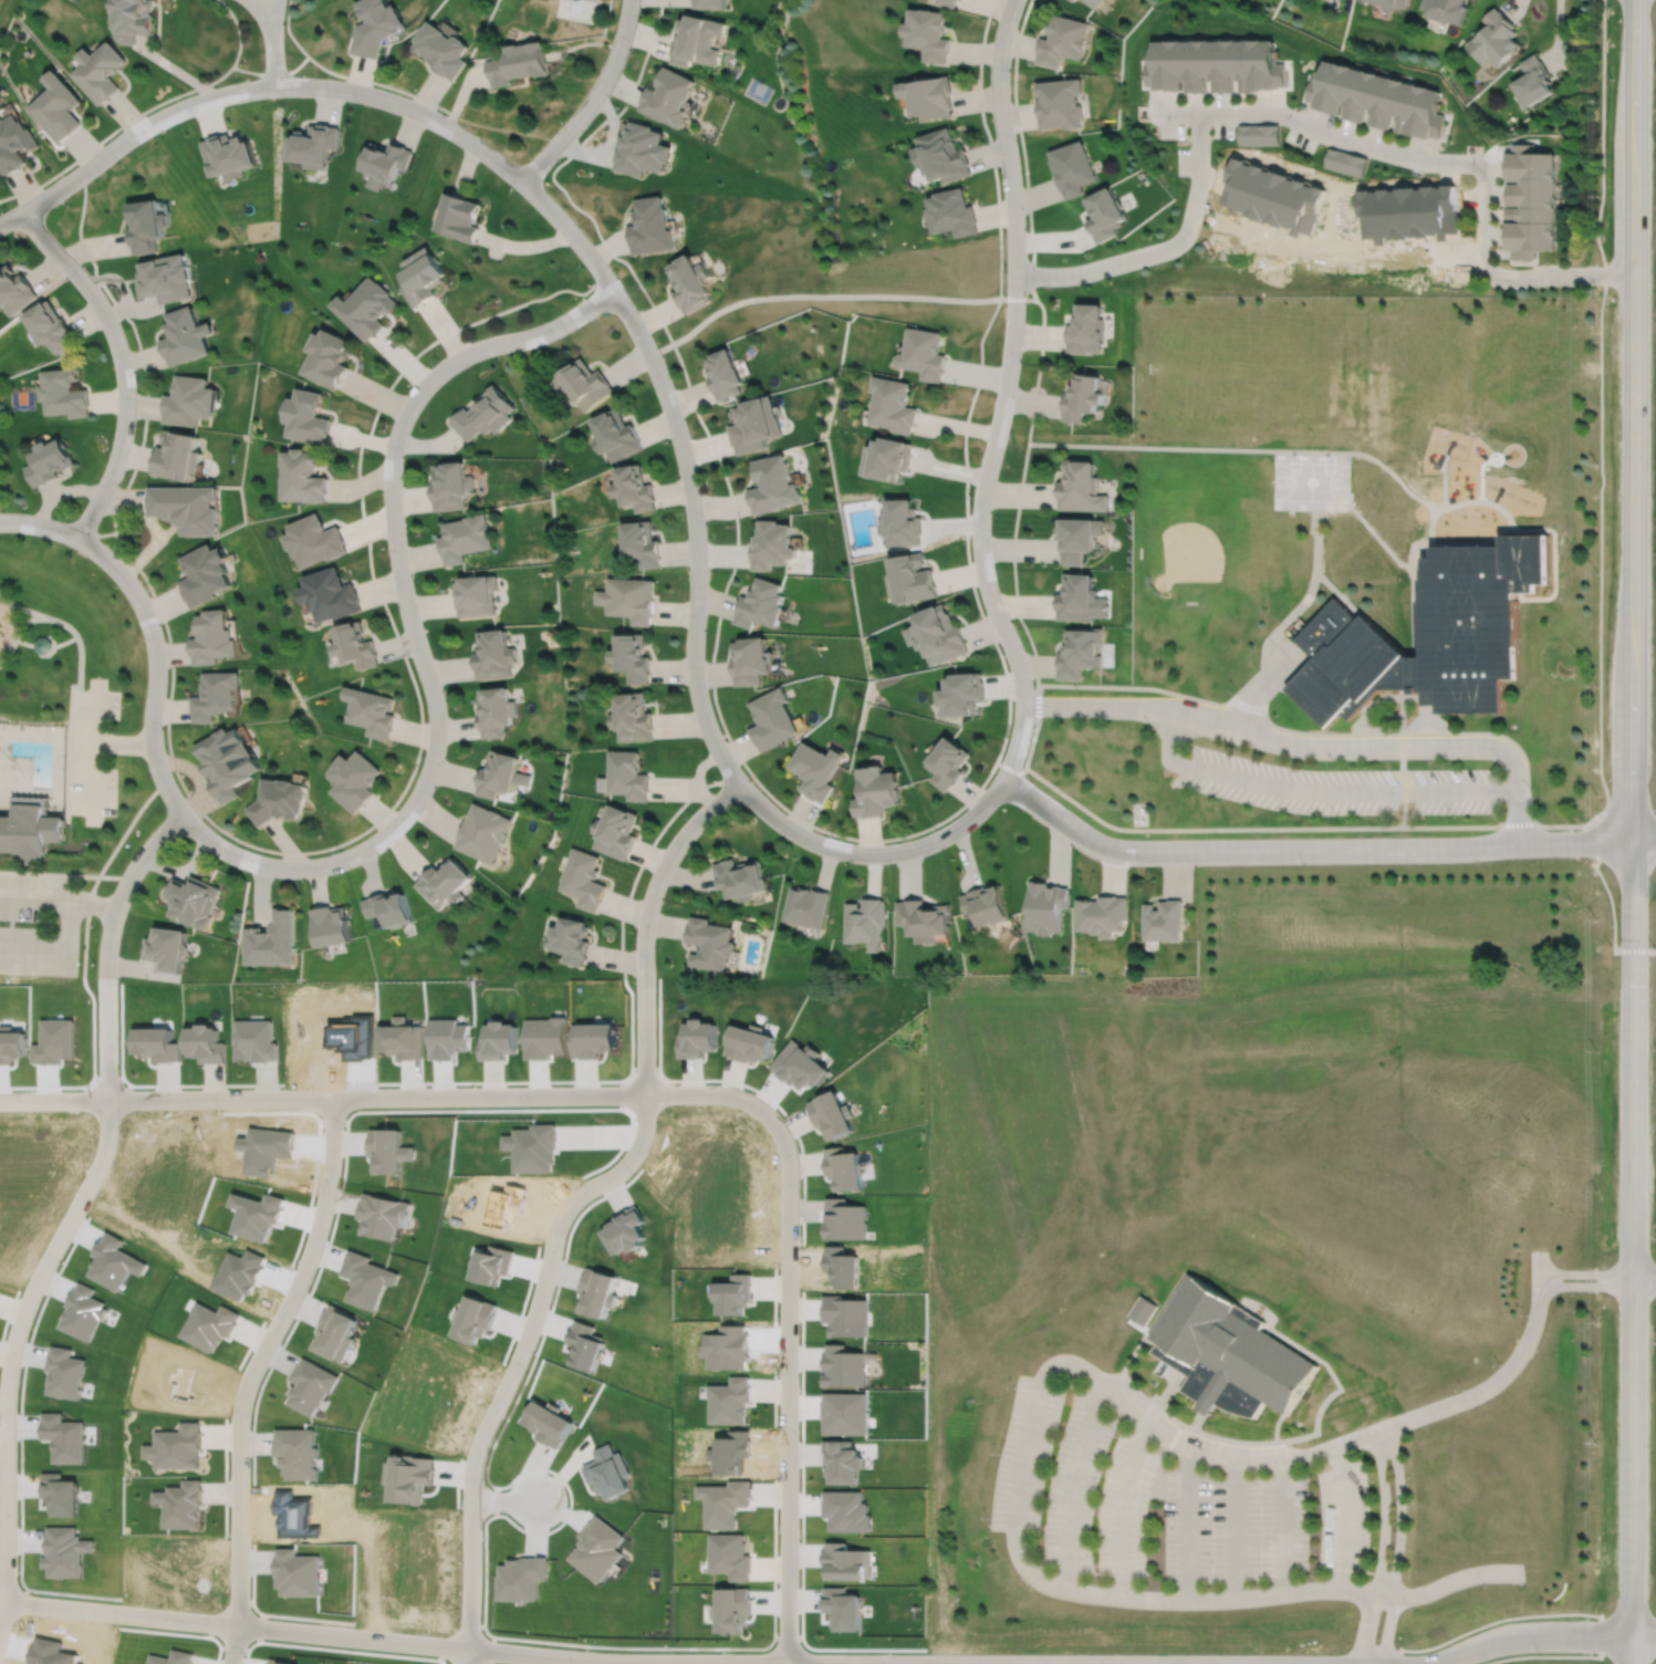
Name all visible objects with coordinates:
building: (957, 0)
building: (1070, 0)
building: (1072, 0)
building: (947, 2)
building: (1092, 2)
building: (708, 3)
building: (1391, 3)
building: (1445, 10)
road: (264, 11)
building: (133, 19)
street lamp: (284, 19)
street lamp: (993, 20)
building: (373, 27)
road: (237, 30)
building: (928, 34)
building: (1494, 39)
building: (1061, 40)
building: (697, 41)
street lamp: (631, 46)
road: (272, 50)
building: (440, 50)
road: (301, 62)
building: (518, 63)
building: (1214, 66)
building: (98, 72)
building: (1533, 82)
street lamp: (185, 94)
building: (929, 94)
building: (666, 97)
road: (592, 100)
building: (1377, 100)
street lamp: (358, 104)
building: (1058, 104)
road: (439, 106)
building: (56, 107)
street lamp: (445, 113)
road: (1175, 114)
street lamp: (564, 117)
road: (114, 128)
road: (1315, 128)
street lamp: (117, 131)
building: (1259, 135)
street lamp: (1017, 142)
building: (314, 143)
building: (13, 144)
road: (1022, 149)
building: (638, 150)
building: (229, 153)
building: (944, 153)
building: (387, 157)
building: (1345, 162)
building: (1070, 169)
street lamp: (514, 190)
building: (1532, 202)
street lamp: (6, 207)
building: (952, 210)
building: (460, 215)
building: (1102, 216)
building: (146, 222)
building: (650, 223)
street lamp: (81, 262)
street lamp: (1003, 264)
street lamp: (583, 267)
building: (424, 273)
building: (165, 275)
building: (690, 281)
building: (15, 288)
road: (913, 295)
building: (367, 305)
building: (52, 324)
building: (1086, 326)
street lamp: (650, 332)
street lamp: (566, 333)
building: (185, 334)
building: (925, 352)
building: (330, 356)
street lamp: (437, 358)
street lamp: (1020, 360)
road: (121, 363)
street lamp: (134, 372)
building: (725, 372)
park: (1263, 373)
building: (583, 383)
building: (65, 392)
building: (1082, 395)
park: (20, 398)
building: (189, 399)
building: (894, 404)
building: (485, 413)
building: (308, 415)
building: (756, 424)
building: (616, 434)
street lamp: (668, 441)
road: (1117, 445)
street lamp: (403, 453)
building: (178, 455)
building: (888, 457)
building: (51, 460)
building: (302, 476)
road: (1443, 478)
street lamp: (118, 480)
park: (1310, 480)
building: (773, 483)
building: (450, 485)
building: (1081, 486)
building: (635, 487)
street lamp: (970, 495)
road: (1470, 500)
building: (186, 506)
street lamp: (60, 518)
street lamp: (705, 519)
building: (903, 521)
road: (105, 532)
building: (464, 537)
building: (1079, 537)
road: (1377, 537)
park: (1201, 538)
building: (315, 540)
road: (1473, 542)
building: (643, 543)
building: (772, 544)
street lamp: (385, 547)
building: (205, 573)
building: (913, 579)
road: (1313, 582)
road: (1337, 591)
building: (331, 594)
building: (476, 594)
building: (1077, 596)
building: (629, 599)
building: (761, 604)
road: (29, 618)
street lamp: (1011, 618)
street lamp: (160, 623)
road: (17, 624)
road: (46, 635)
building: (940, 635)
building: (1431, 635)
building: (213, 637)
building: (43, 644)
building: (358, 645)
building: (1081, 652)
road: (42, 654)
building: (493, 655)
building: (633, 656)
street lamp: (409, 657)
building: (751, 661)
road: (1285, 683)
road: (1244, 684)
road: (72, 685)
road: (1259, 685)
street lamp: (685, 686)
street lamp: (1236, 688)
street lamp: (1081, 694)
building: (215, 695)
building: (965, 695)
road: (1374, 706)
road: (1420, 708)
building: (373, 711)
building: (496, 713)
building: (633, 718)
building: (773, 719)
road: (706, 721)
street lamp: (1150, 726)
street lamp: (164, 729)
road: (1600, 732)
street lamp: (1008, 736)
road: (93, 741)
road: (1309, 746)
street lamp: (1238, 748)
parking lot: (92, 751)
park: (65, 756)
street lamp: (421, 756)
road: (1402, 758)
building: (228, 762)
building: (949, 763)
street lamp: (1335, 763)
street lamp: (1451, 763)
building: (817, 771)
building: (499, 774)
building: (627, 776)
road: (91, 778)
street lamp: (749, 778)
building: (354, 780)
street lamp: (1031, 780)
parking lot: (1340, 786)
street lamp: (1531, 789)
road: (1317, 790)
building: (877, 792)
street lamp: (1219, 799)
building: (279, 801)
road: (409, 807)
street lamp: (688, 813)
street lamp: (1452, 815)
street lamp: (1335, 817)
street lamp: (934, 828)
road: (1230, 828)
building: (31, 829)
street lamp: (1553, 829)
road: (827, 831)
road: (1633, 831)
building: (615, 832)
street lamp: (219, 833)
building: (482, 833)
street lamp: (1388, 834)
street lamp: (832, 835)
street lamp: (1219, 835)
street lamp: (167, 847)
street lamp: (340, 849)
road: (1319, 849)
road: (647, 850)
road: (305, 851)
street lamp: (1475, 861)
street lamp: (1133, 864)
street lamp: (1304, 864)
road: (32, 867)
road: (101, 870)
road: (64, 873)
building: (739, 875)
building: (583, 881)
building: (444, 884)
road: (59, 897)
building: (192, 902)
building: (983, 902)
road: (1610, 902)
building: (805, 904)
building: (1044, 904)
road: (10, 909)
building: (388, 909)
building: (1101, 912)
building: (923, 916)
building: (1163, 918)
building: (864, 919)
road: (645, 921)
parking lot: (67, 924)
building: (330, 927)
street lamp: (634, 930)
building: (709, 940)
building: (270, 942)
building: (571, 942)
road: (60, 950)
building: (167, 950)
building: (695, 1036)
building: (400, 1038)
building: (499, 1038)
building: (252, 1039)
building: (747, 1040)
building: (202, 1041)
street lamp: (633, 1062)
building: (800, 1063)
road: (726, 1080)
street lamp: (425, 1084)
street lamp: (753, 1091)
road: (376, 1096)
street lamp: (530, 1105)
street lamp: (219, 1109)
building: (830, 1113)
street lamp: (343, 1126)
building: (843, 1166)
street lamp: (631, 1173)
street lamp: (799, 1192)
road: (71, 1211)
building: (382, 1214)
building: (844, 1218)
building: (625, 1229)
building: (365, 1279)
road: (1644, 1279)
building: (597, 1291)
building: (1142, 1309)
road: (1258, 1310)
building: (846, 1314)
building: (473, 1318)
building: (209, 1324)
road: (1136, 1324)
road: (1264, 1327)
building: (334, 1332)
road: (1148, 1340)
building: (1227, 1352)
road: (517, 1362)
building: (843, 1366)
road: (249, 1373)
road: (788, 1375)
road: (1042, 1375)
building: (310, 1385)
road: (1135, 1389)
road: (1162, 1397)
building: (728, 1400)
road: (1196, 1419)
building: (546, 1423)
road: (1315, 1424)
road: (1275, 1425)
building: (176, 1444)
building: (295, 1453)
parking lot: (1024, 1455)
building: (842, 1460)
building: (607, 1471)
building: (408, 1476)
road: (1071, 1484)
parking lot: (1074, 1485)
road: (503, 1500)
building: (180, 1501)
building: (725, 1501)
road: (1121, 1508)
road: (1399, 1510)
parking lot: (1343, 1516)
road: (1343, 1516)
parking lot: (1198, 1520)
road: (1188, 1523)
road: (1283, 1525)
road: (1236, 1528)
road: (1382, 1548)
building: (596, 1549)
building: (728, 1554)
building: (298, 1570)
building: (520, 1578)
building: (731, 1606)
building: (842, 1606)
road: (1566, 1612)
road: (1387, 1630)
building: (281, 1661)
road: (831, 1662)
road: (899, 1663)
road: (1148, 1663)

